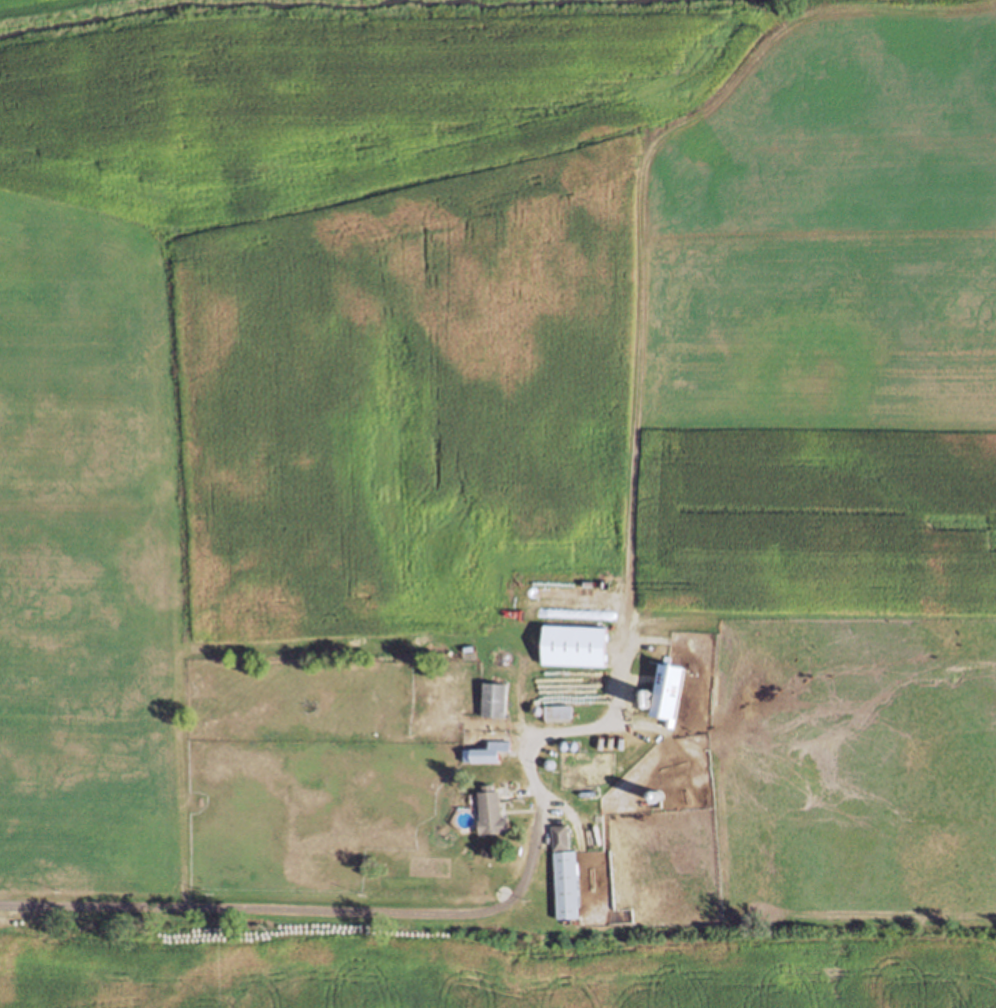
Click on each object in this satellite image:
building: (575, 645)
building: (669, 690)
building: (495, 698)
building: (559, 712)
building: (487, 751)
building: (491, 810)
building: (561, 835)
building: (568, 884)
road: (328, 911)

